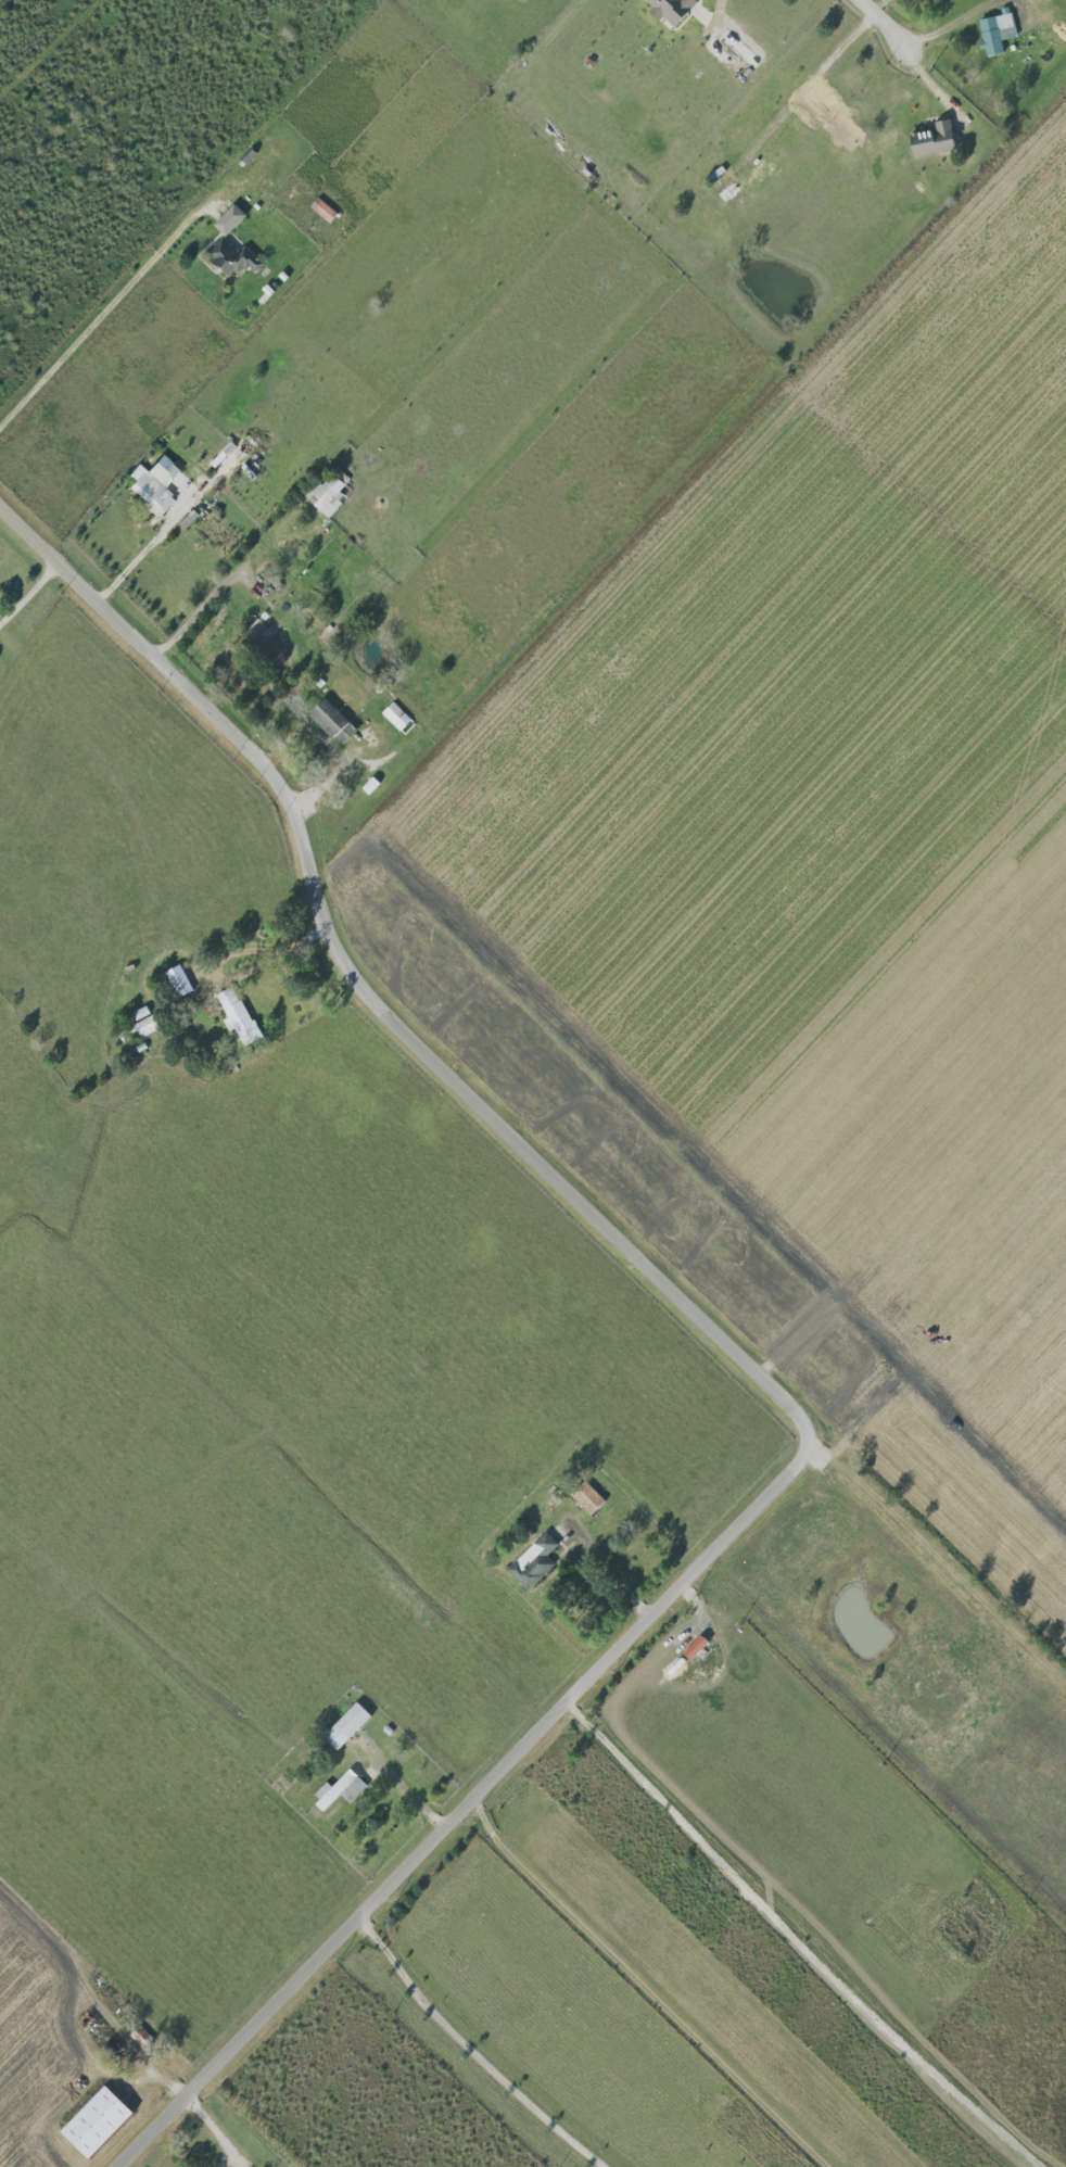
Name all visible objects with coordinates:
road: (1028, 4)
building: (673, 9)
road: (716, 18)
road: (951, 21)
road: (894, 23)
building: (997, 33)
road: (813, 80)
building: (937, 139)
building: (725, 182)
building: (325, 210)
building: (231, 219)
building: (234, 258)
road: (110, 307)
building: (156, 483)
road: (694, 493)
building: (329, 495)
road: (142, 554)
road: (31, 592)
road: (207, 595)
building: (264, 644)
building: (397, 717)
building: (335, 722)
road: (261, 963)
building: (180, 980)
building: (239, 1015)
building: (148, 1025)
road: (732, 1343)
building: (591, 1499)
road: (935, 1546)
building: (535, 1561)
road: (608, 1564)
building: (698, 1647)
building: (348, 1725)
building: (342, 1789)
road: (414, 1795)
road: (801, 1940)
road: (644, 1987)
road: (97, 1997)
road: (474, 2050)
building: (100, 2122)

